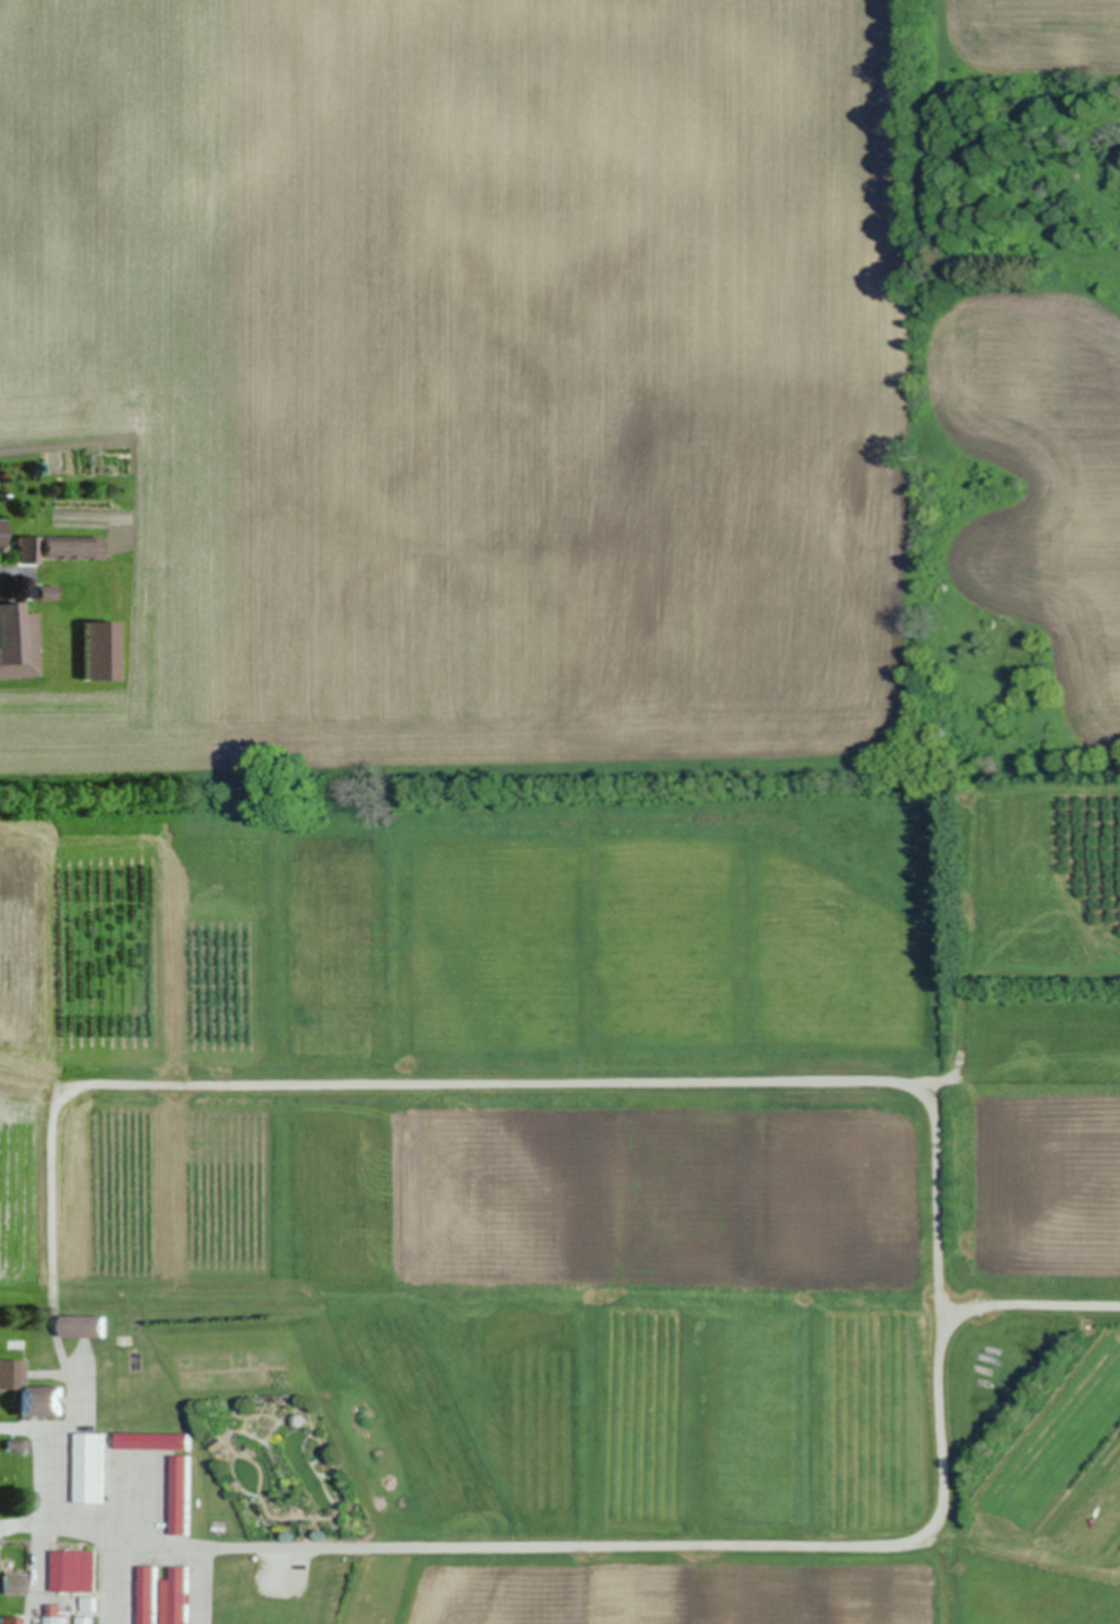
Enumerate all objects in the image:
building: (1, 531)
building: (62, 547)
building: (46, 592)
building: (18, 641)
building: (100, 650)
crop: (561, 1201)
building: (84, 1327)
building: (11, 1373)
building: (42, 1402)
building: (153, 1441)
building: (90, 1468)
building: (181, 1496)
building: (118, 1503)
road: (936, 1523)
road: (27, 1525)
building: (75, 1571)
building: (13, 1583)
building: (148, 1594)
building: (175, 1597)
building: (90, 1604)
building: (53, 1606)
building: (11, 1620)

